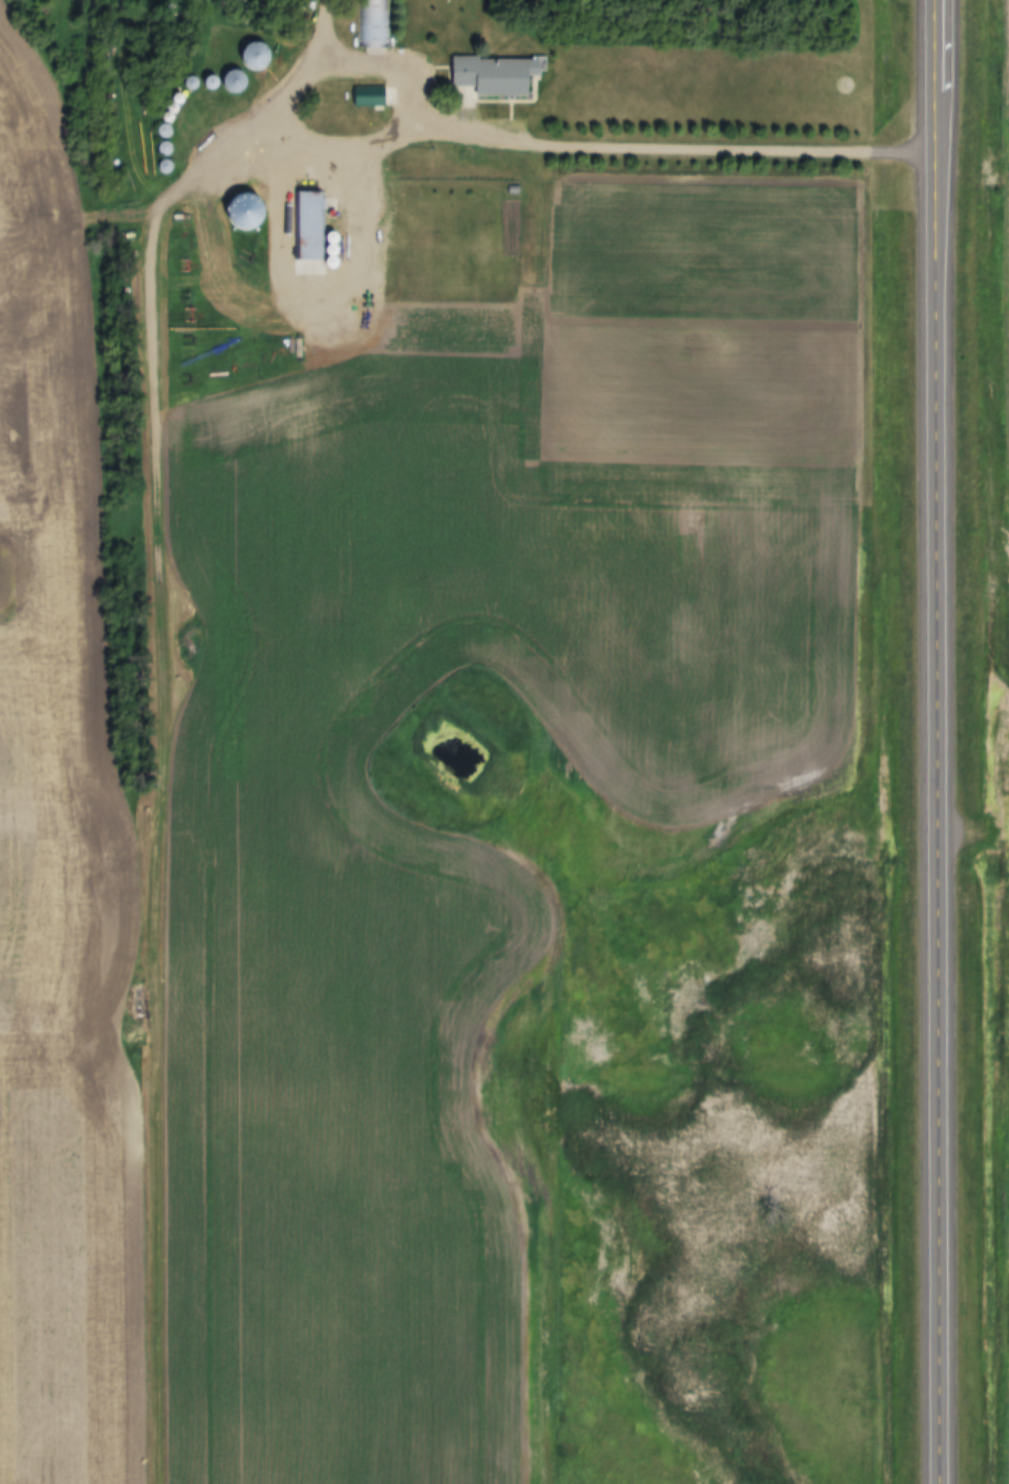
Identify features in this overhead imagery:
building: (375, 22)
building: (261, 55)
building: (501, 74)
building: (240, 81)
building: (373, 96)
road: (595, 139)
road: (956, 741)

